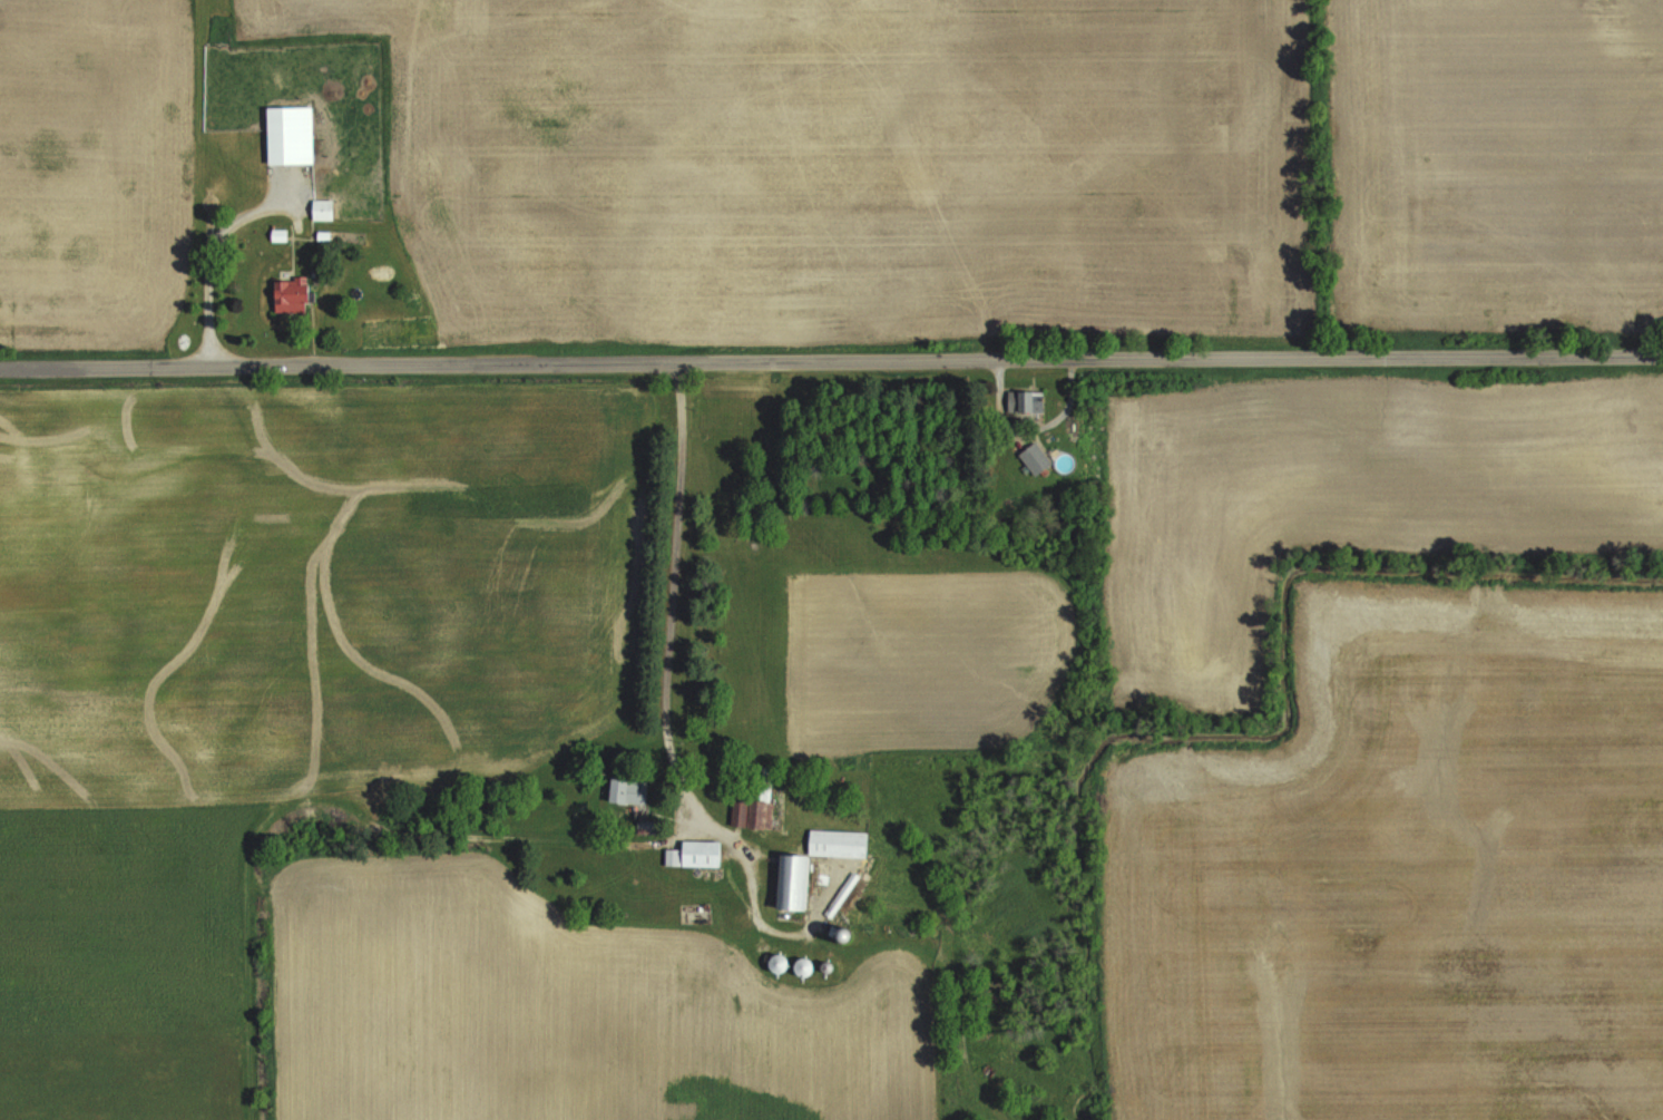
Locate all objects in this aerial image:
building: (290, 134)
building: (322, 208)
building: (375, 252)
road: (213, 260)
building: (292, 294)
road: (831, 357)
building: (1034, 458)
road: (685, 540)
building: (628, 790)
building: (755, 801)
building: (701, 853)
building: (793, 882)

